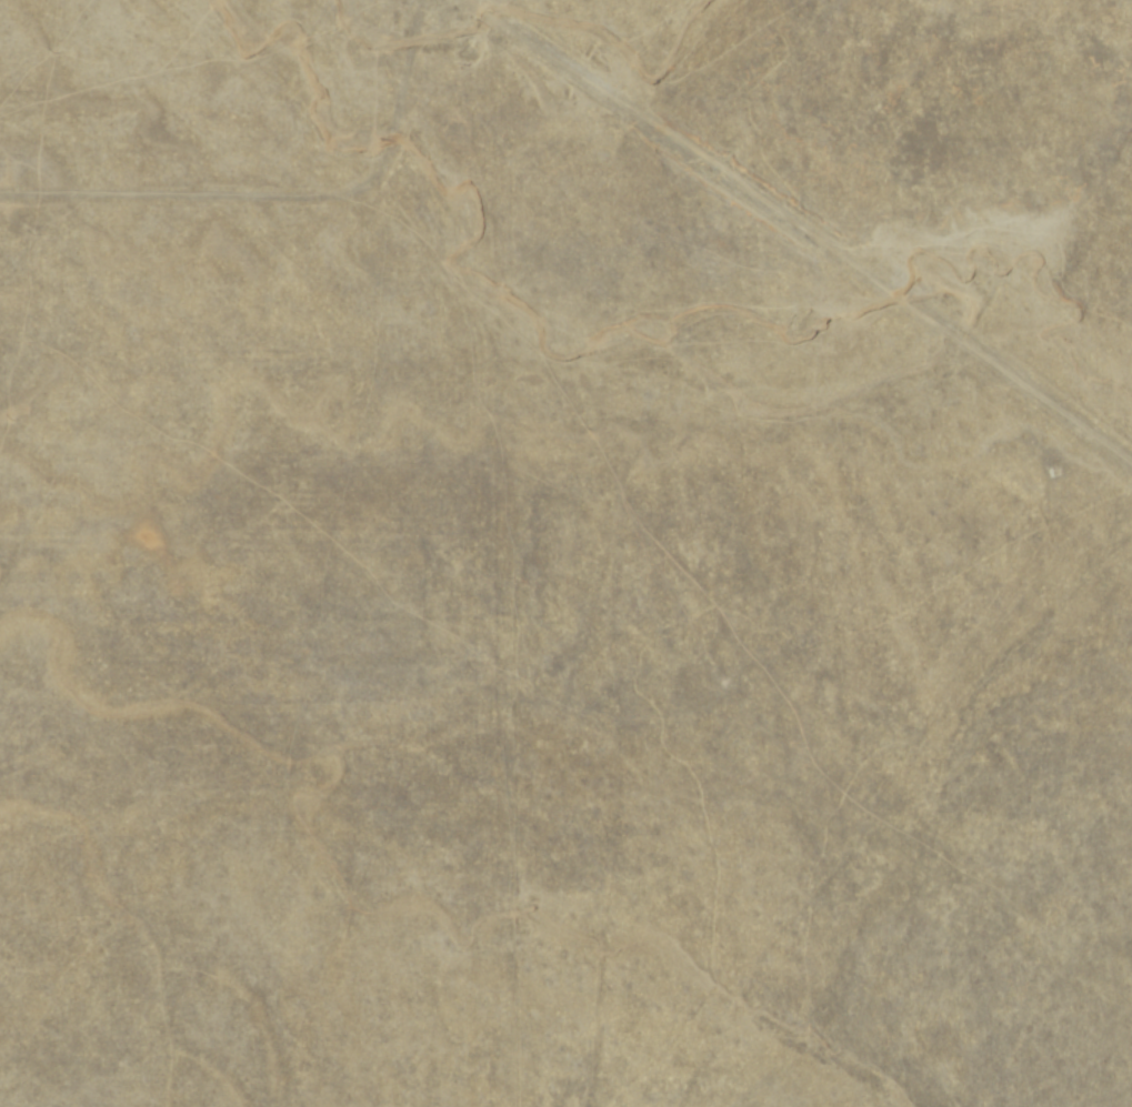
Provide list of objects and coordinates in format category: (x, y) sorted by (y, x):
road: (243, 195)
road: (804, 222)

